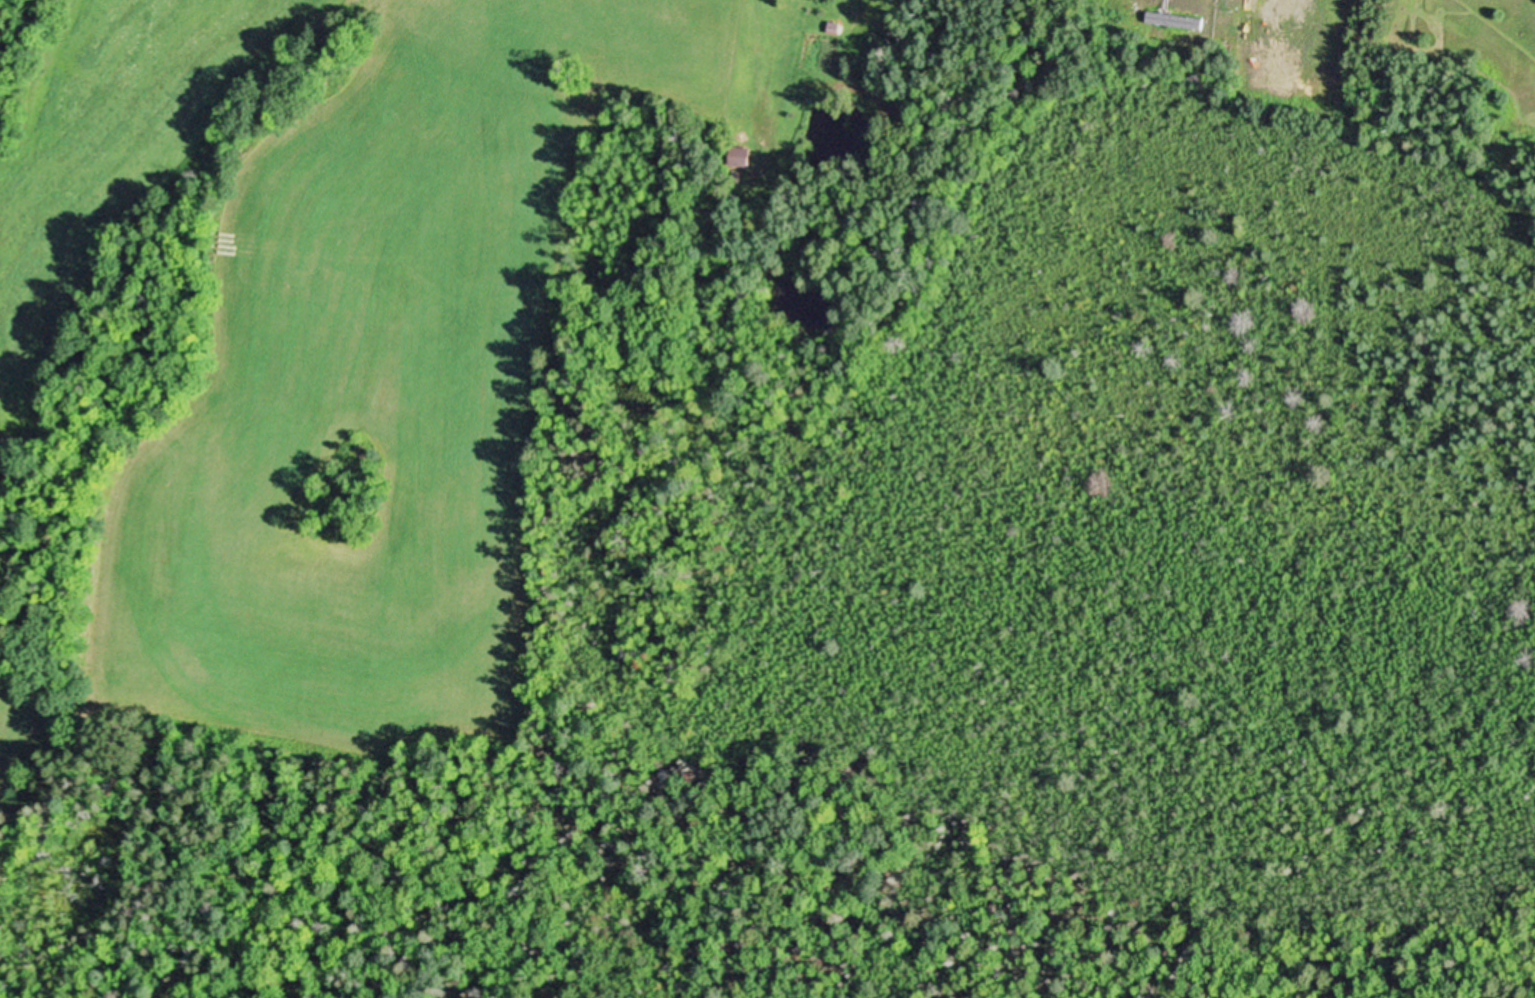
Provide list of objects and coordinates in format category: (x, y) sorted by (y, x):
building: (1175, 18)

